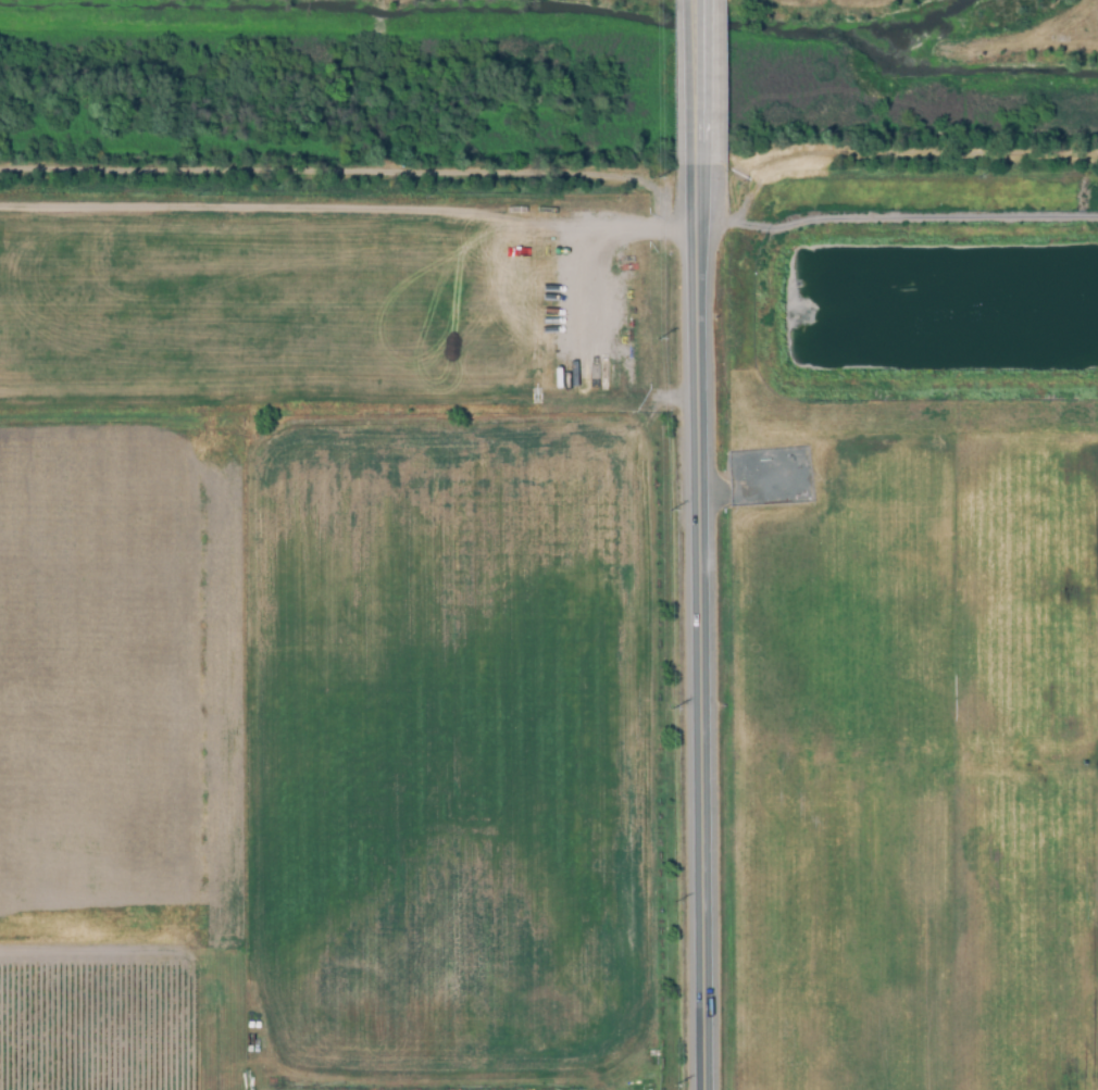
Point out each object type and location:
road: (702, 92)
road: (598, 217)
road: (900, 223)
road: (369, 245)
road: (146, 247)
road: (314, 248)
road: (195, 286)
crop: (185, 303)
building: (428, 303)
road: (388, 304)
road: (372, 341)
building: (564, 376)
road: (661, 402)
road: (399, 498)
road: (704, 637)
road: (264, 702)
road: (255, 723)
road: (312, 725)
road: (309, 742)
road: (258, 743)
road: (258, 760)
road: (263, 772)
road: (262, 780)
road: (258, 785)
road: (636, 787)
road: (600, 793)
road: (211, 906)
road: (266, 1085)
road: (582, 1085)

